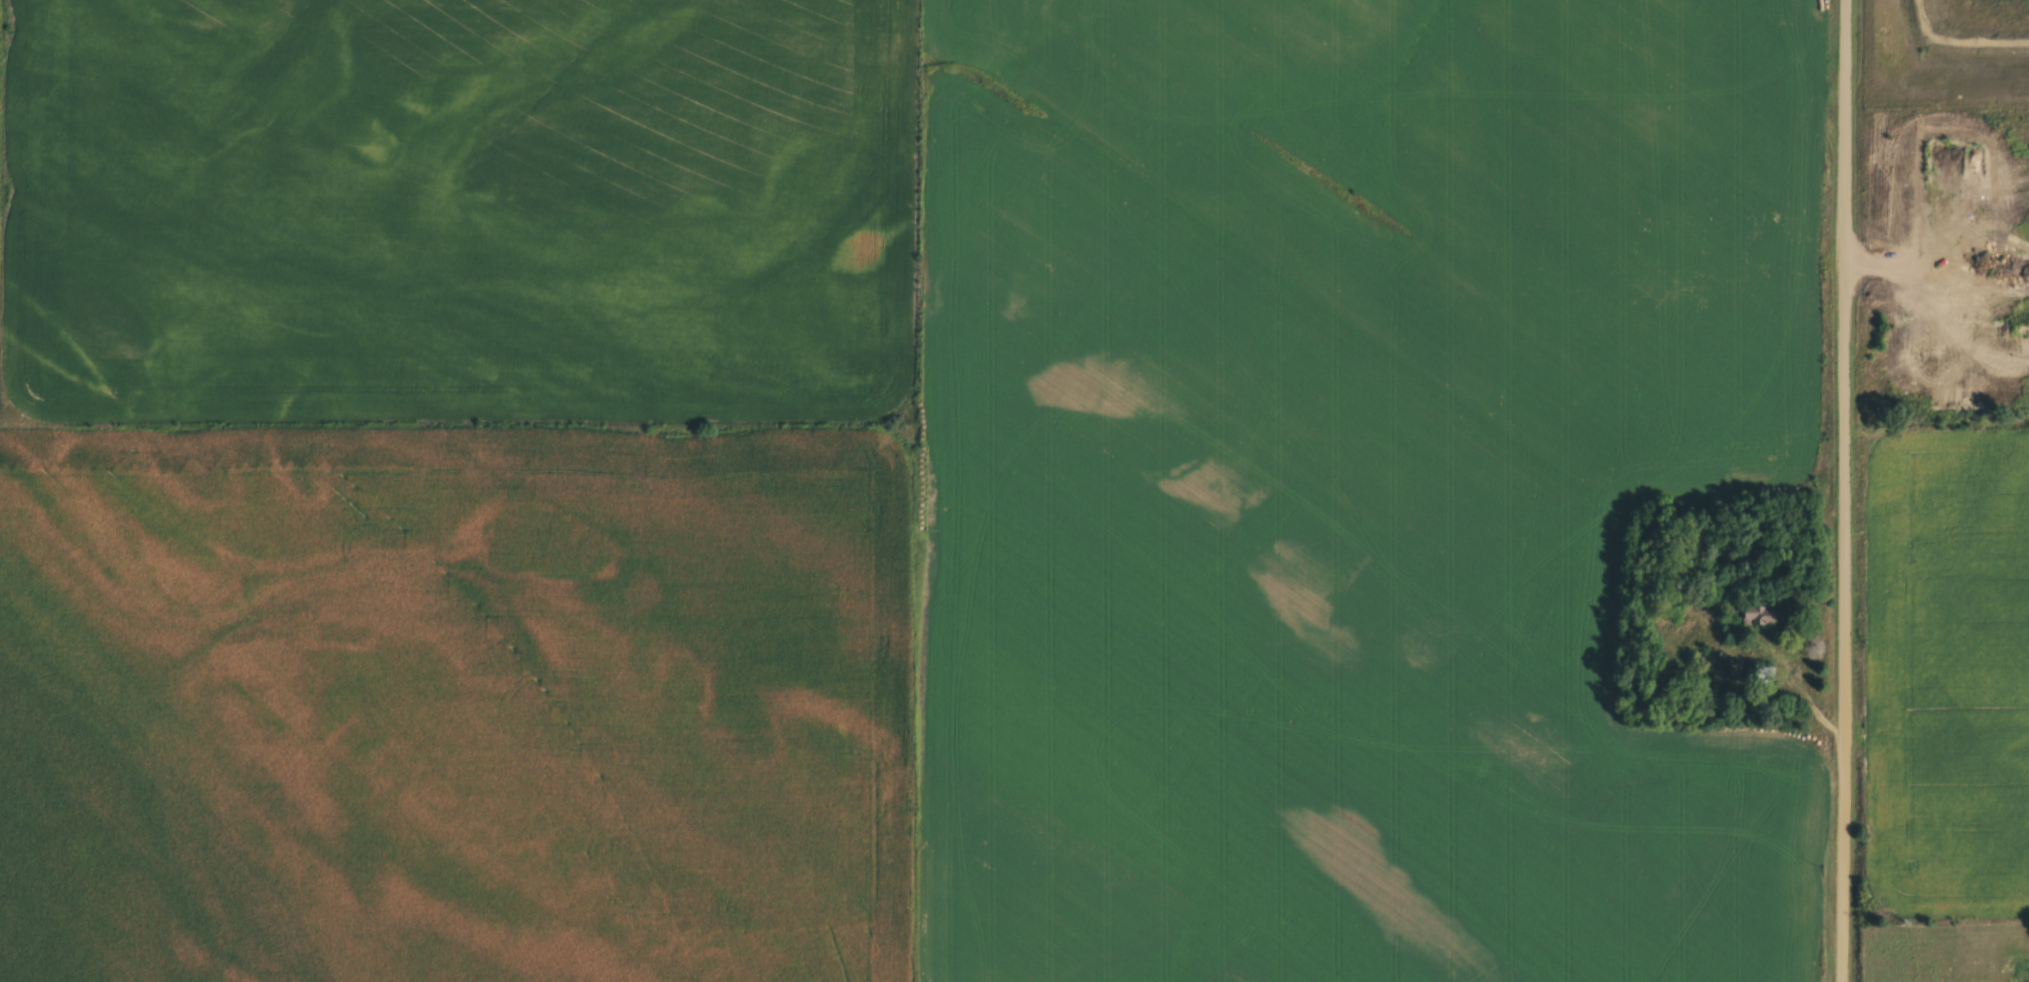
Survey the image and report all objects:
road: (1840, 491)
building: (1760, 614)
crop: (1949, 707)

